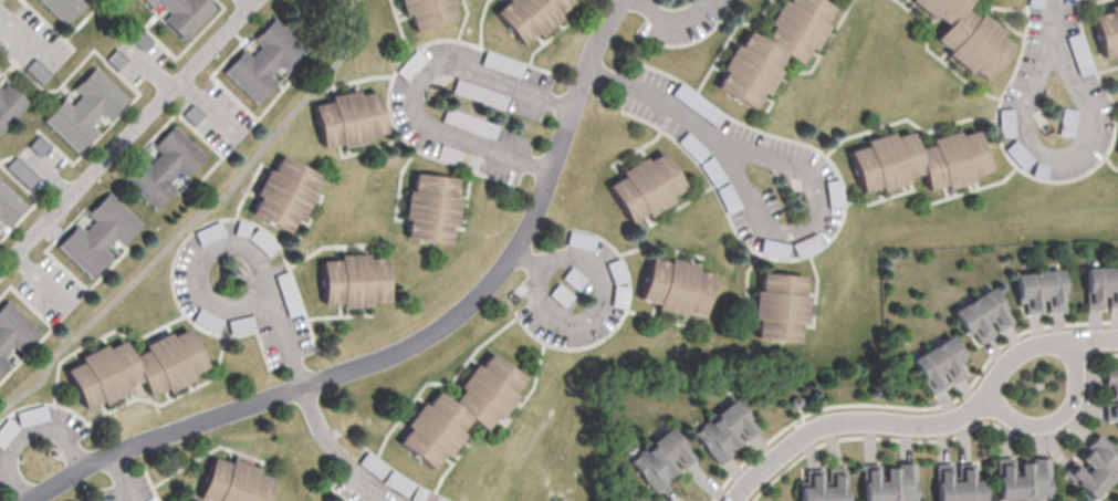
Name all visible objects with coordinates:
road: (247, 1)
building: (1035, 2)
building: (60, 8)
building: (425, 12)
building: (179, 13)
building: (530, 17)
road: (1051, 18)
road: (671, 24)
building: (1106, 32)
road: (21, 33)
building: (965, 35)
building: (772, 50)
building: (262, 62)
road: (357, 79)
road: (412, 83)
building: (480, 93)
road: (659, 104)
building: (9, 105)
road: (205, 105)
building: (82, 111)
building: (348, 121)
building: (1067, 121)
road: (126, 136)
road: (1059, 152)
building: (1117, 155)
building: (917, 163)
building: (161, 169)
building: (646, 186)
building: (836, 194)
building: (283, 196)
building: (8, 207)
building: (429, 211)
road: (194, 217)
road: (817, 220)
building: (97, 236)
building: (582, 239)
building: (263, 240)
road: (200, 261)
road: (527, 261)
road: (543, 272)
road: (39, 279)
building: (353, 283)
building: (675, 288)
building: (1099, 288)
building: (1037, 292)
building: (563, 295)
building: (779, 305)
building: (980, 315)
building: (208, 319)
building: (242, 323)
building: (13, 332)
road: (285, 337)
road: (409, 343)
building: (938, 364)
building: (134, 370)
building: (1110, 393)
building: (460, 413)
road: (1059, 420)
road: (928, 426)
building: (722, 429)
road: (69, 440)
road: (335, 448)
road: (10, 456)
building: (659, 457)
building: (1089, 474)
road: (121, 477)
building: (1022, 478)
building: (887, 482)
building: (957, 482)
building: (232, 483)
building: (822, 484)

